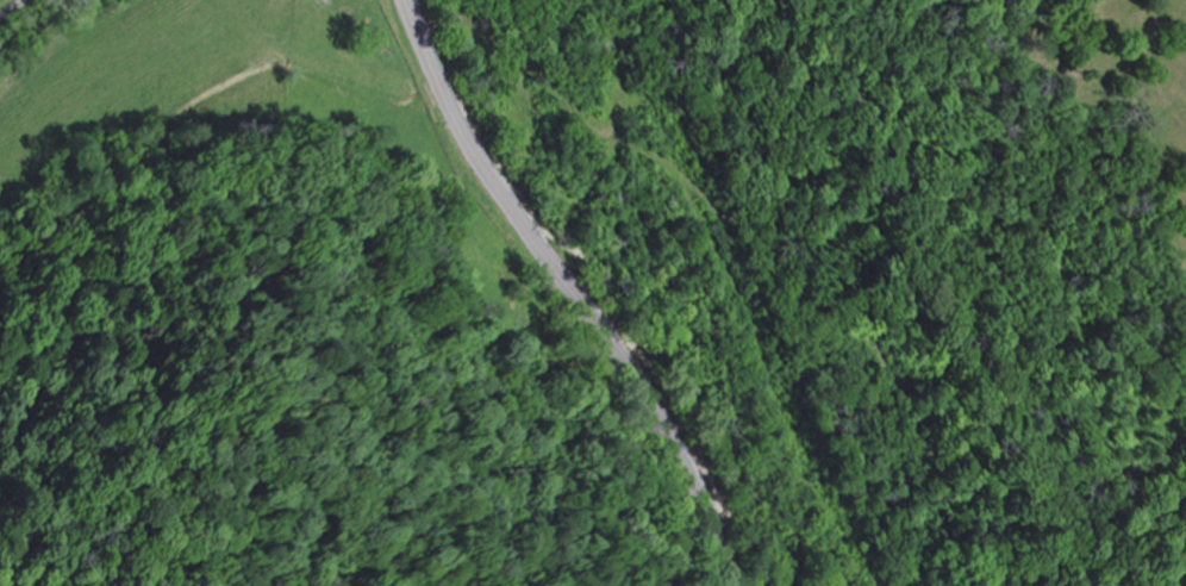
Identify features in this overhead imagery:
road: (13, 7)
road: (545, 299)

